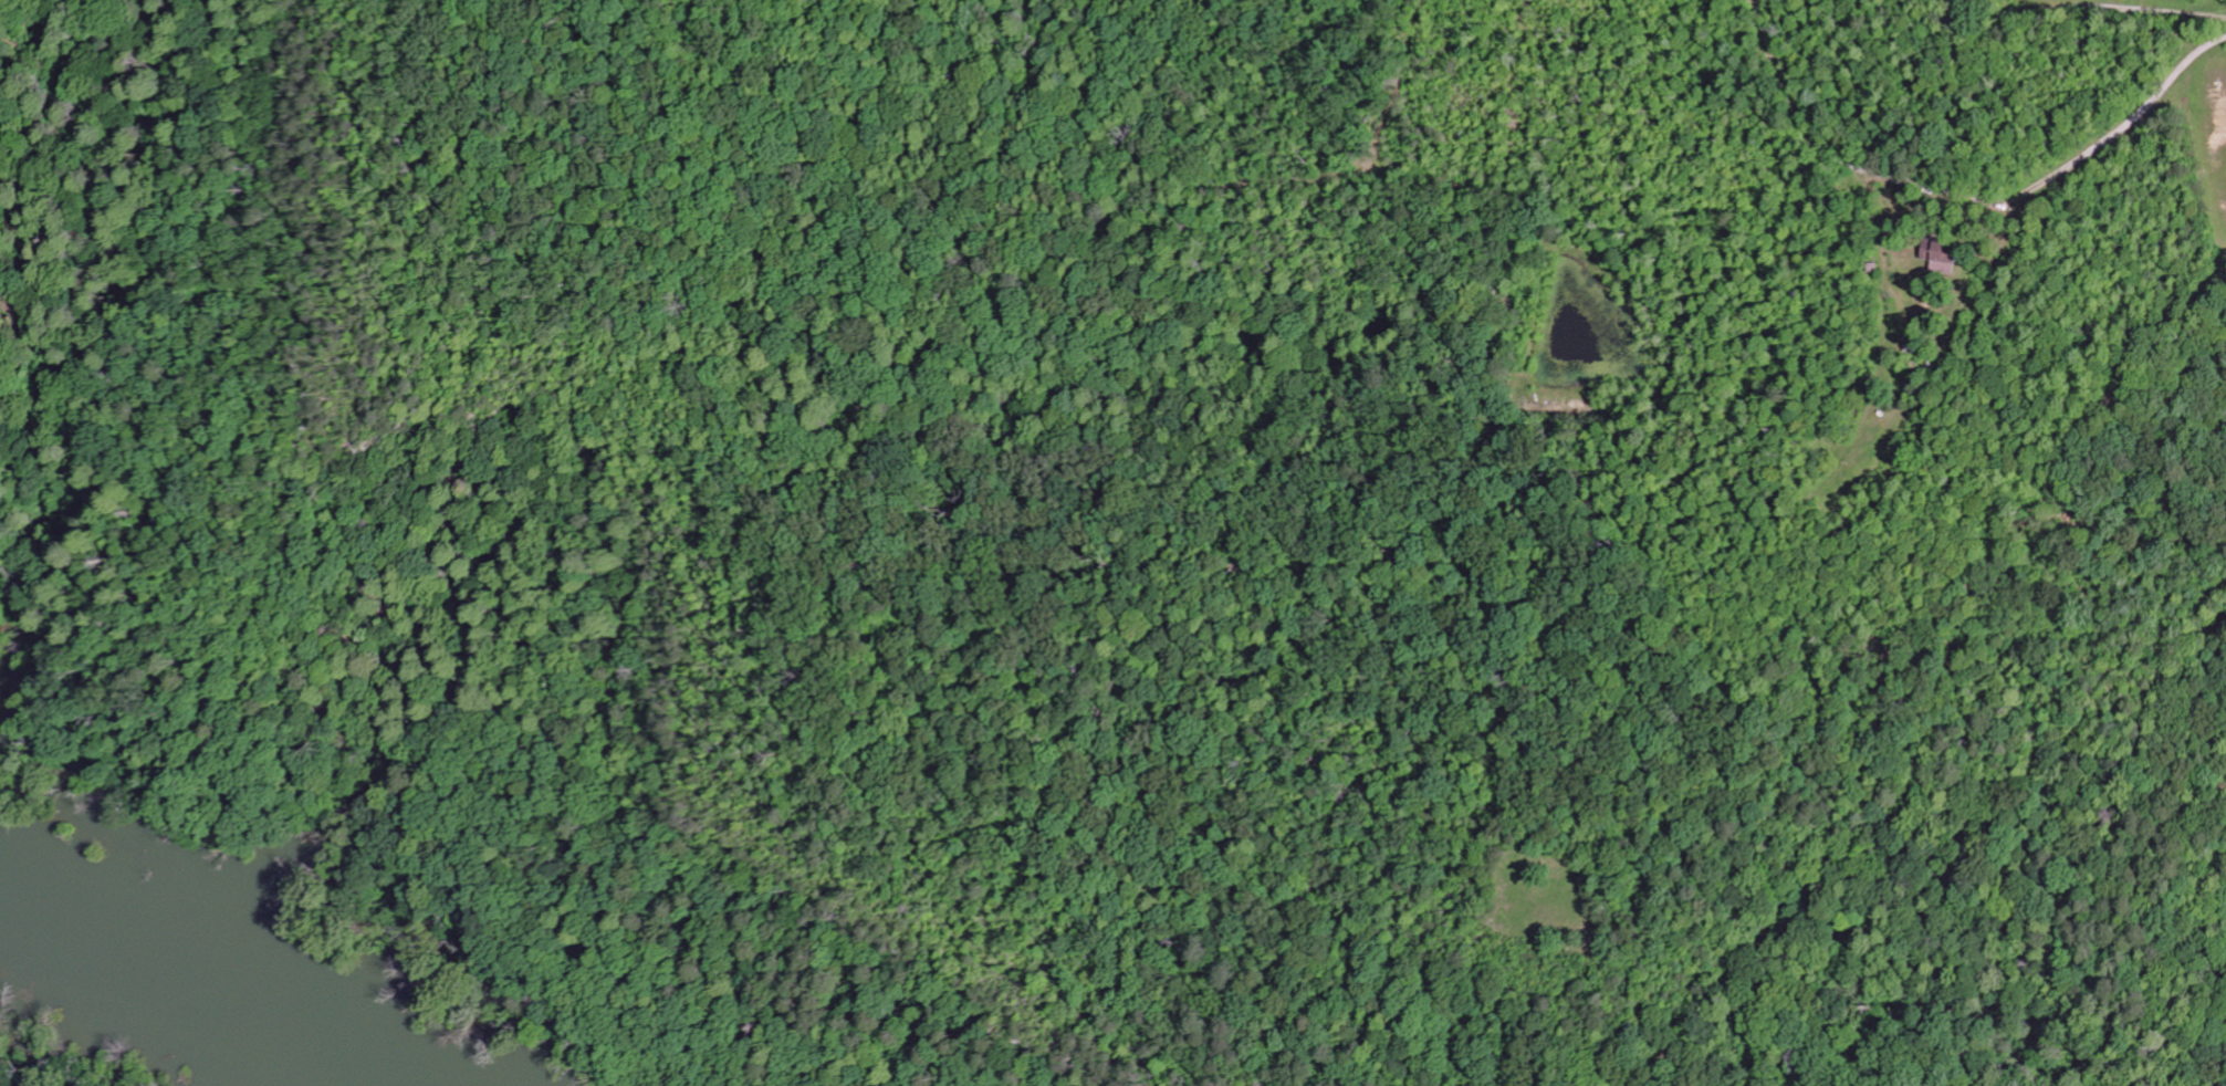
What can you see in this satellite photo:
road: (2103, 11)
road: (1965, 194)
building: (1943, 265)
river: (200, 996)

